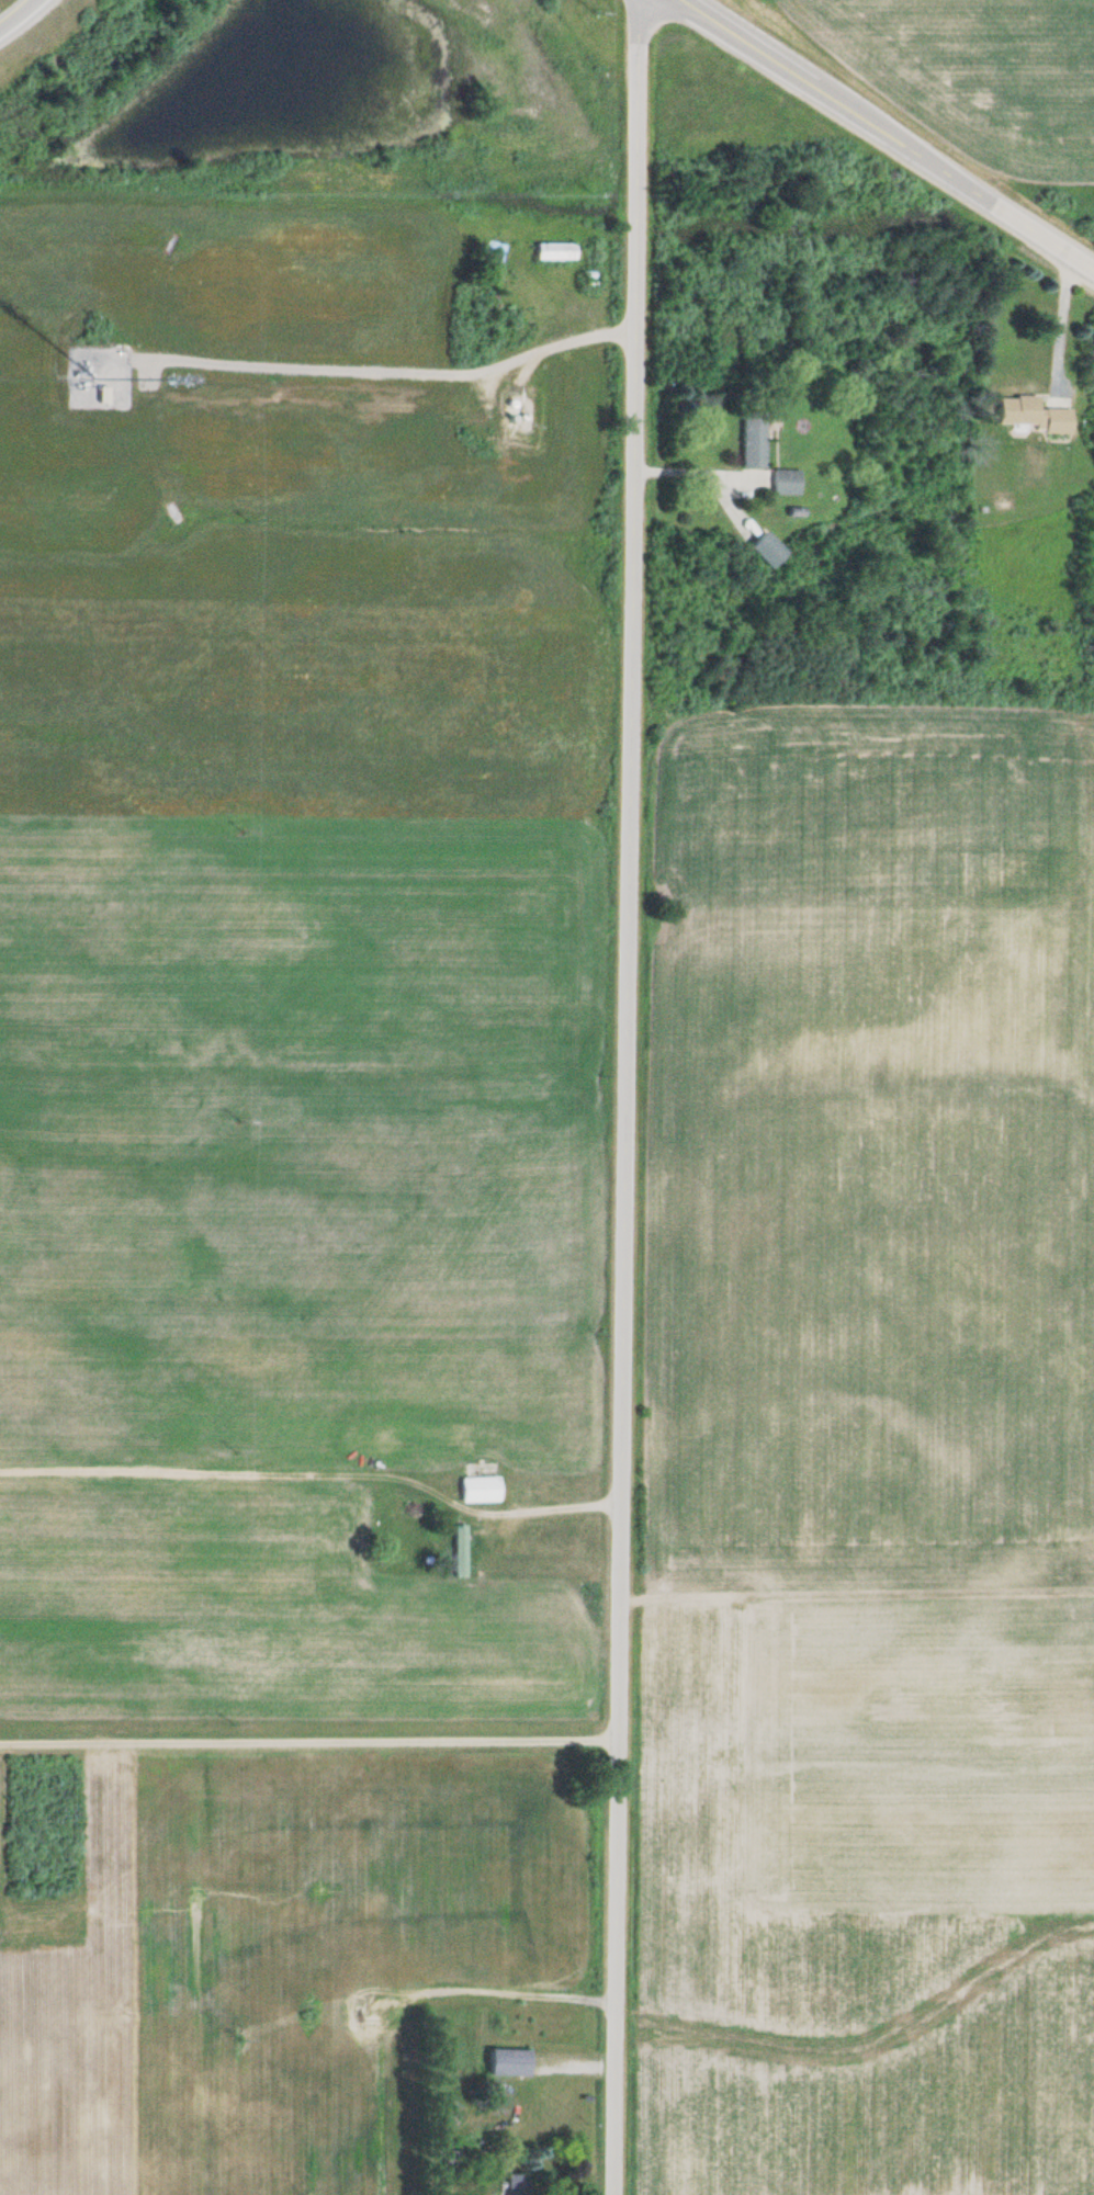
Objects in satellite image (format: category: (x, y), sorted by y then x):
road: (16, 14)
road: (886, 132)
building: (552, 250)
building: (100, 396)
building: (519, 408)
building: (1029, 415)
building: (751, 439)
building: (783, 482)
building: (765, 550)
road: (606, 1097)
building: (477, 1491)
road: (846, 1579)
road: (297, 1721)
building: (505, 2062)
building: (461, 2158)
building: (515, 2191)

